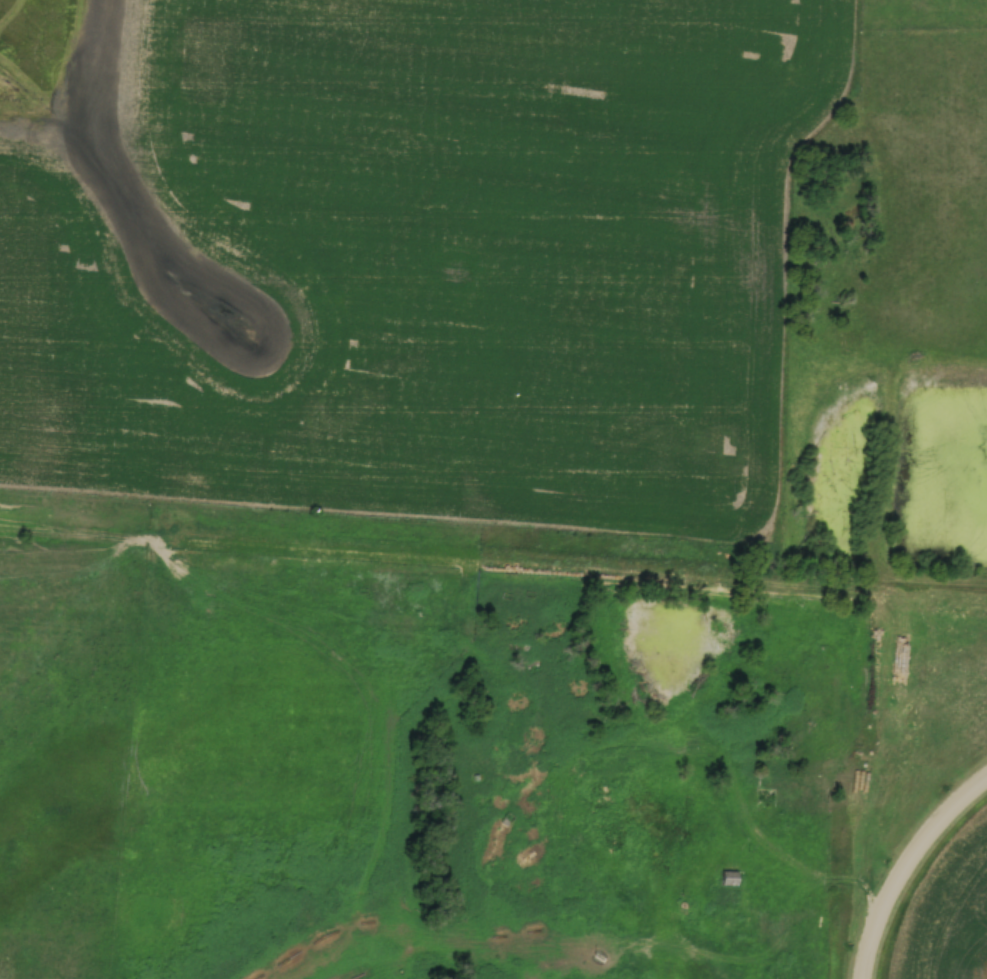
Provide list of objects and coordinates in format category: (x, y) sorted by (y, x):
road: (911, 870)

